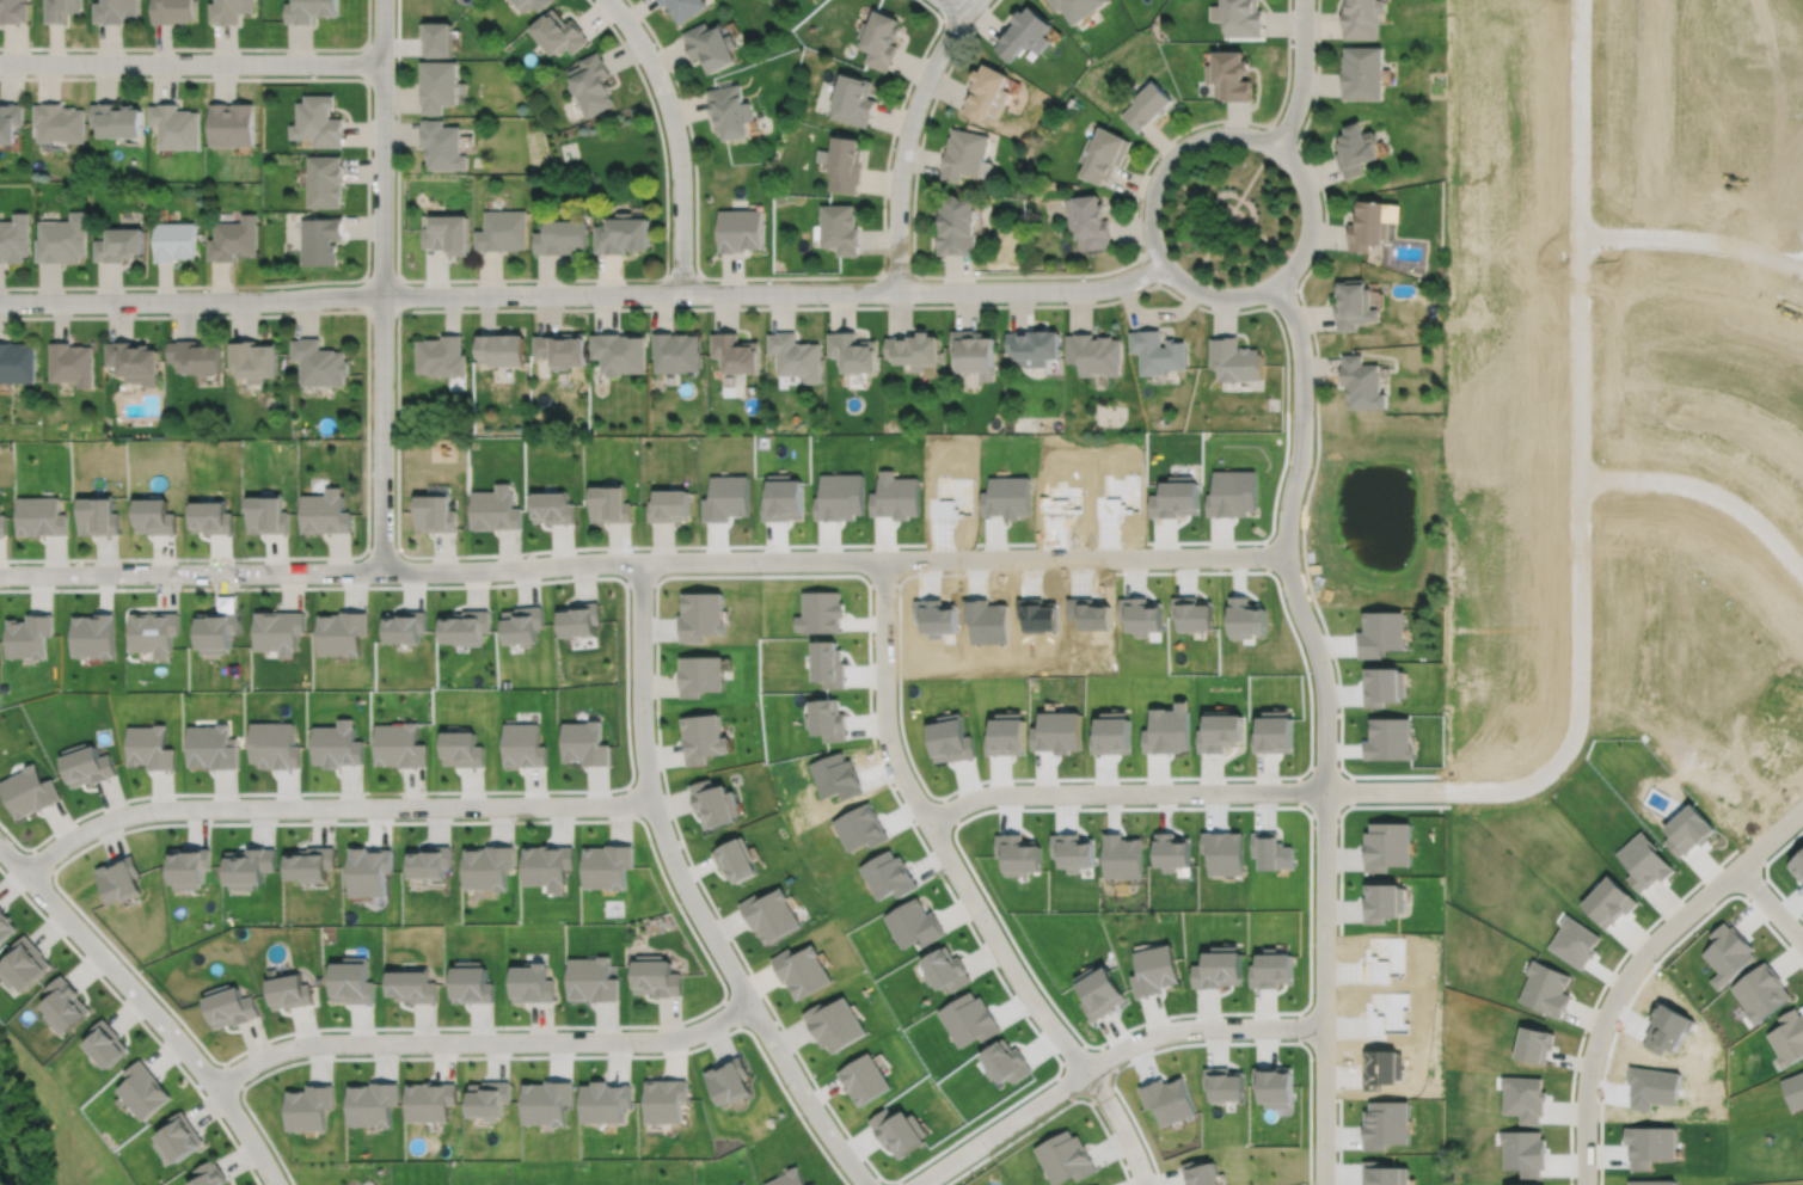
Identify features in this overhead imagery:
building: (532, 4)
building: (685, 7)
road: (953, 7)
building: (1077, 7)
building: (61, 10)
building: (229, 10)
building: (311, 10)
building: (14, 11)
building: (116, 11)
building: (173, 11)
road: (948, 11)
building: (1240, 17)
building: (1360, 19)
building: (559, 32)
building: (1026, 33)
building: (437, 38)
building: (881, 38)
building: (711, 47)
road: (207, 48)
road: (191, 62)
road: (367, 62)
building: (1361, 73)
building: (1232, 75)
road: (1301, 75)
building: (593, 84)
building: (439, 85)
building: (988, 93)
building: (854, 100)
building: (1148, 105)
building: (731, 111)
building: (117, 119)
building: (318, 121)
building: (11, 122)
building: (60, 122)
building: (232, 124)
building: (176, 125)
road: (1281, 135)
road: (906, 136)
road: (676, 137)
building: (443, 146)
building: (1355, 149)
road: (1177, 151)
building: (1103, 154)
building: (965, 155)
building: (844, 164)
road: (367, 178)
building: (325, 180)
road: (1238, 197)
park: (1228, 214)
road: (1228, 214)
road: (1229, 214)
building: (1088, 222)
building: (840, 228)
building: (957, 228)
building: (1368, 228)
building: (503, 231)
building: (741, 231)
building: (448, 234)
building: (234, 235)
building: (624, 237)
building: (14, 238)
building: (173, 238)
building: (564, 238)
building: (62, 239)
building: (321, 241)
road: (1692, 241)
building: (119, 245)
road: (1149, 268)
road: (1062, 274)
road: (897, 275)
road: (681, 276)
road: (787, 276)
road: (539, 277)
road: (395, 278)
road: (381, 284)
road: (583, 293)
road: (1281, 295)
road: (1301, 299)
building: (1354, 306)
road: (620, 307)
building: (1034, 343)
building: (499, 345)
building: (560, 346)
building: (913, 348)
building: (674, 349)
building: (851, 349)
building: (1157, 349)
building: (618, 350)
building: (734, 350)
building: (974, 350)
building: (1093, 351)
building: (196, 354)
building: (440, 354)
building: (795, 354)
building: (254, 356)
building: (1235, 357)
building: (134, 358)
building: (17, 360)
building: (72, 361)
building: (319, 361)
building: (1362, 385)
road: (367, 430)
road: (1580, 443)
building: (1232, 493)
road: (1707, 496)
building: (725, 497)
building: (1175, 497)
building: (608, 502)
building: (669, 503)
building: (551, 505)
building: (493, 506)
building: (325, 510)
building: (433, 511)
building: (268, 512)
building: (153, 514)
building: (39, 515)
building: (97, 515)
building: (210, 515)
building: (1, 522)
road: (381, 548)
road: (643, 560)
road: (639, 582)
building: (699, 614)
building: (579, 618)
building: (522, 624)
building: (405, 625)
building: (465, 626)
building: (216, 630)
building: (280, 630)
building: (154, 631)
building: (343, 631)
building: (27, 634)
building: (93, 634)
building: (699, 674)
road: (626, 695)
road: (1324, 726)
building: (1220, 730)
building: (1274, 732)
building: (701, 738)
building: (585, 742)
building: (274, 744)
building: (336, 744)
building: (399, 744)
building: (523, 744)
building: (148, 747)
building: (210, 747)
building: (461, 747)
building: (86, 765)
building: (27, 791)
road: (1182, 791)
road: (632, 799)
building: (713, 803)
road: (330, 806)
road: (1339, 816)
building: (1687, 829)
road: (1770, 837)
building: (1388, 846)
road: (42, 859)
building: (735, 860)
building: (1644, 861)
building: (430, 862)
building: (309, 864)
building: (547, 866)
building: (607, 866)
building: (188, 867)
building: (249, 867)
building: (489, 867)
building: (368, 871)
building: (118, 879)
road: (964, 889)
road: (689, 894)
building: (1382, 901)
building: (1608, 901)
road: (710, 902)
road: (1770, 904)
building: (769, 915)
building: (913, 922)
building: (5, 925)
building: (24, 965)
building: (1219, 969)
building: (1271, 969)
building: (944, 970)
building: (801, 971)
building: (1154, 971)
building: (656, 977)
building: (591, 980)
building: (350, 981)
building: (470, 983)
building: (531, 984)
building: (412, 986)
road: (724, 988)
building: (1544, 988)
building: (288, 991)
building: (1100, 991)
road: (1611, 1002)
building: (65, 1006)
road: (148, 1007)
building: (228, 1007)
road: (730, 1012)
road: (139, 1019)
building: (833, 1025)
building: (1787, 1037)
road: (482, 1039)
building: (105, 1045)
road: (531, 1055)
road: (1104, 1060)
road: (234, 1074)
building: (730, 1077)
building: (861, 1080)
building: (1224, 1083)
building: (1272, 1083)
building: (143, 1092)
building: (490, 1095)
building: (667, 1097)
building: (431, 1098)
building: (607, 1098)
building: (1167, 1098)
building: (373, 1099)
building: (548, 1099)
building: (308, 1104)
road: (1053, 1112)
building: (897, 1134)
building: (178, 1138)
building: (1802, 1141)
road: (1308, 1148)
building: (1065, 1154)
road: (1157, 1172)
building: (1200, 1172)
building: (210, 1173)
building: (790, 1177)
road: (871, 1179)
road: (899, 1181)

